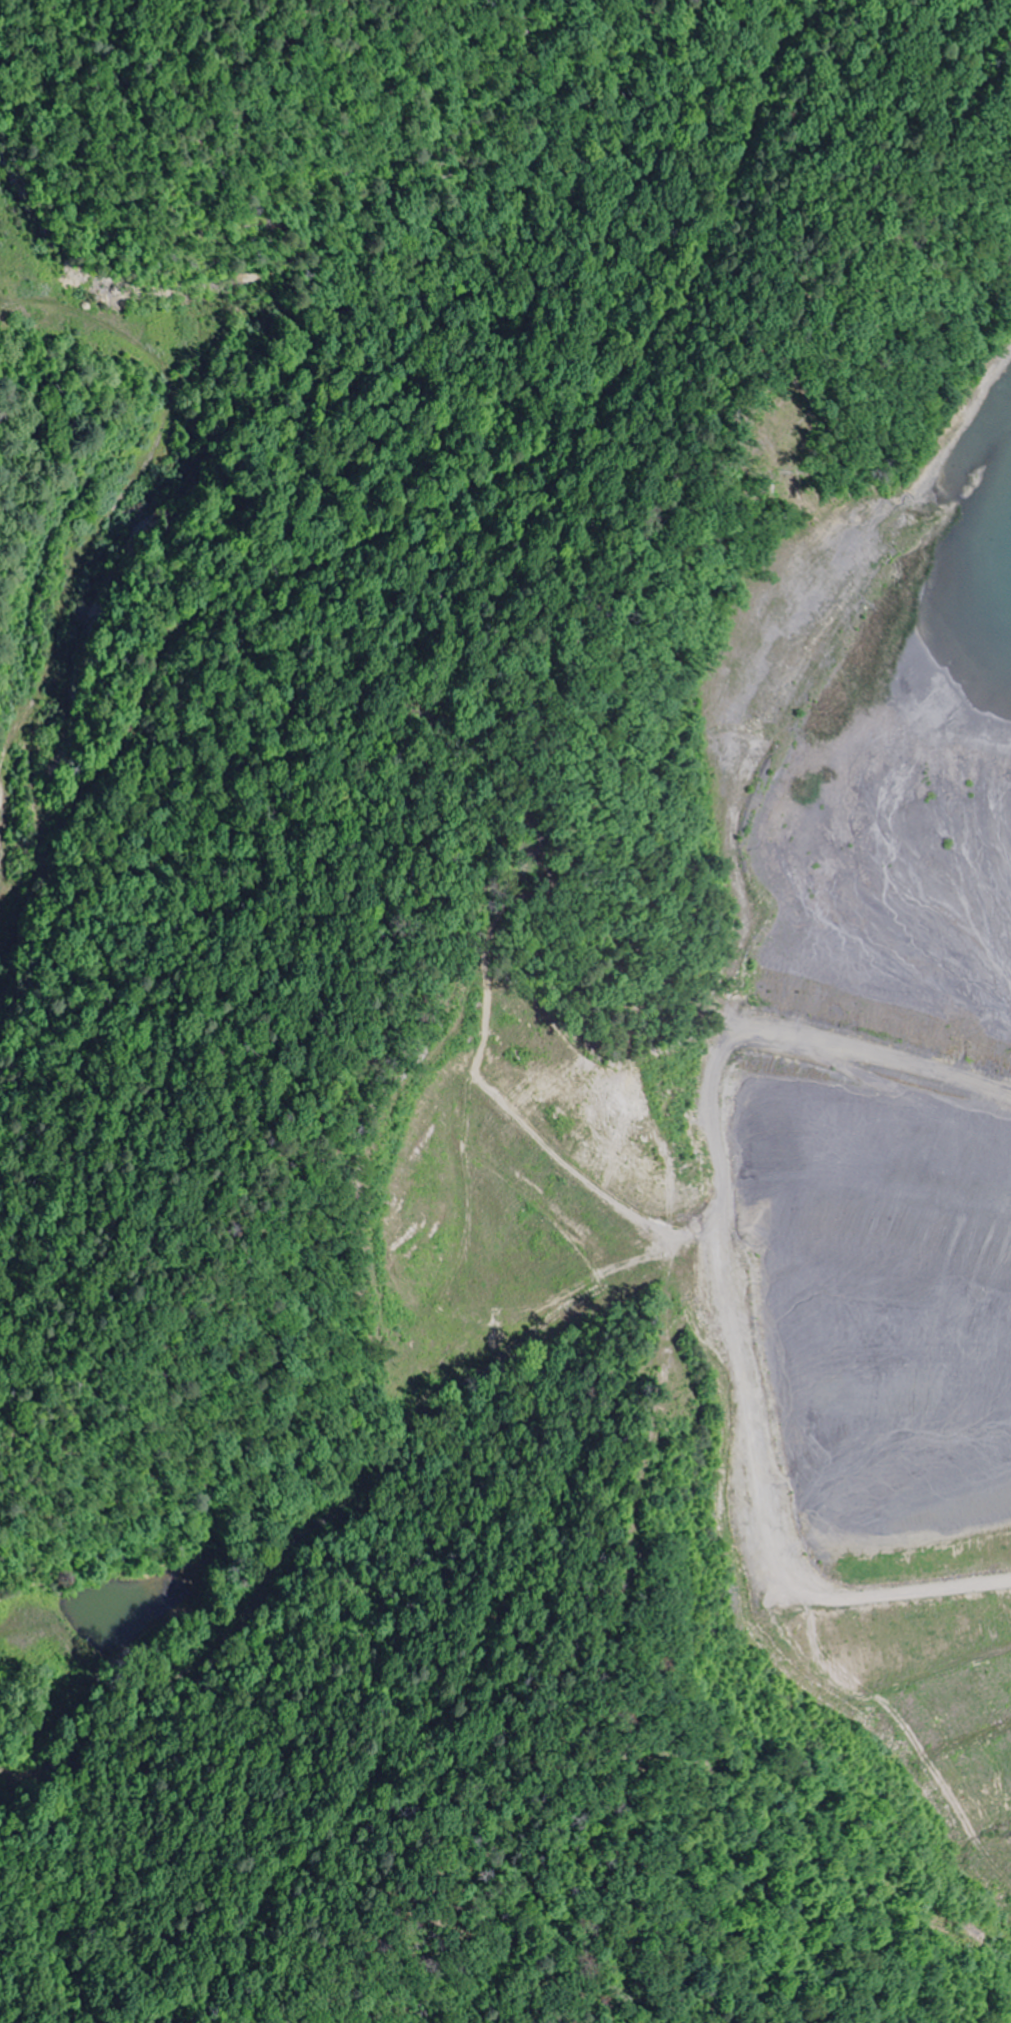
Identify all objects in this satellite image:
road: (555, 492)
quarry: (832, 1262)

